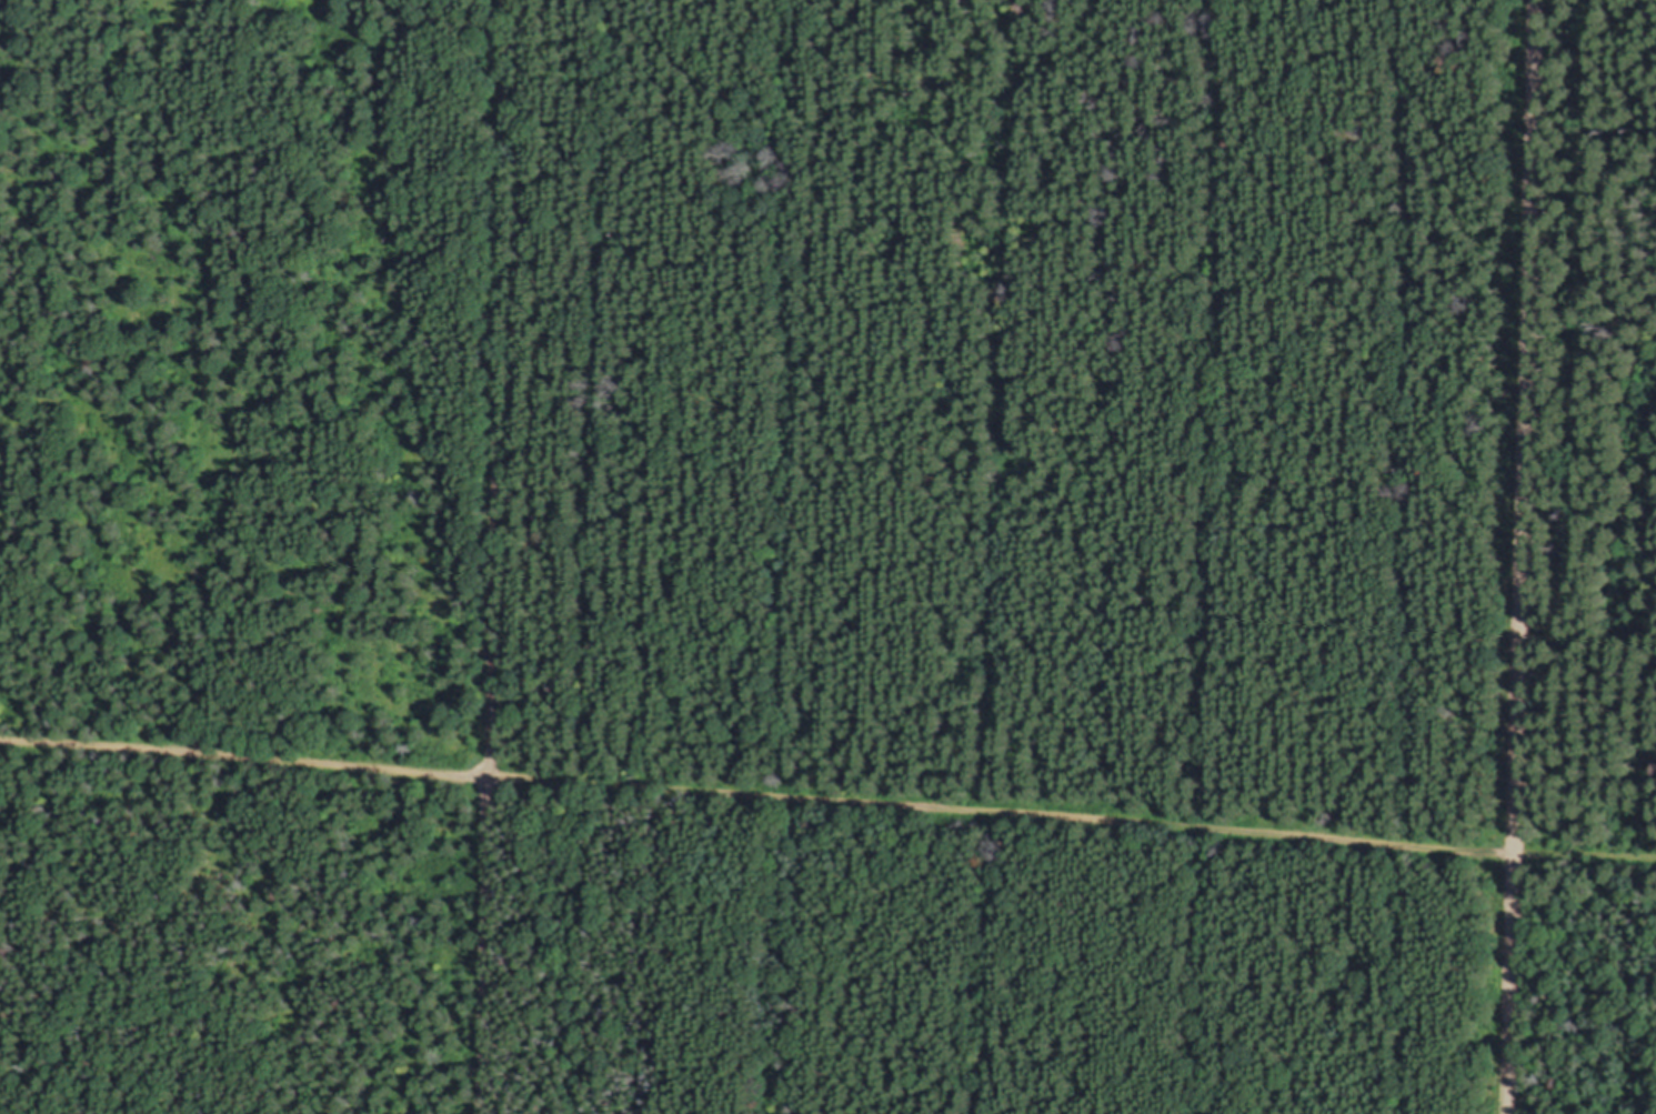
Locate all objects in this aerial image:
road: (490, 556)
road: (1522, 556)
road: (756, 793)
road: (1585, 855)

